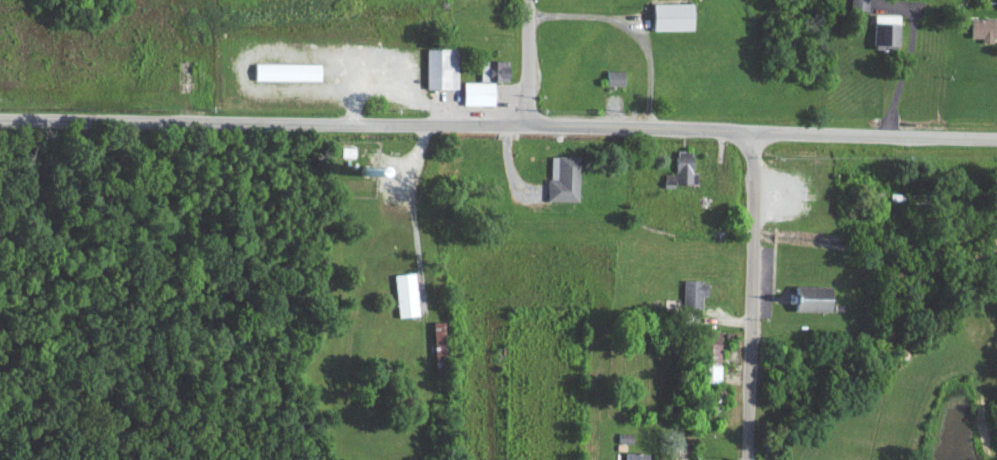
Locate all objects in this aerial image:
building: (852, 7)
building: (666, 21)
building: (980, 33)
building: (879, 36)
road: (527, 61)
building: (487, 75)
building: (281, 76)
building: (609, 83)
building: (472, 98)
road: (498, 121)
building: (675, 175)
building: (557, 183)
road: (751, 294)
building: (688, 298)
building: (400, 299)
building: (805, 303)
building: (432, 343)
building: (707, 361)
building: (628, 459)

